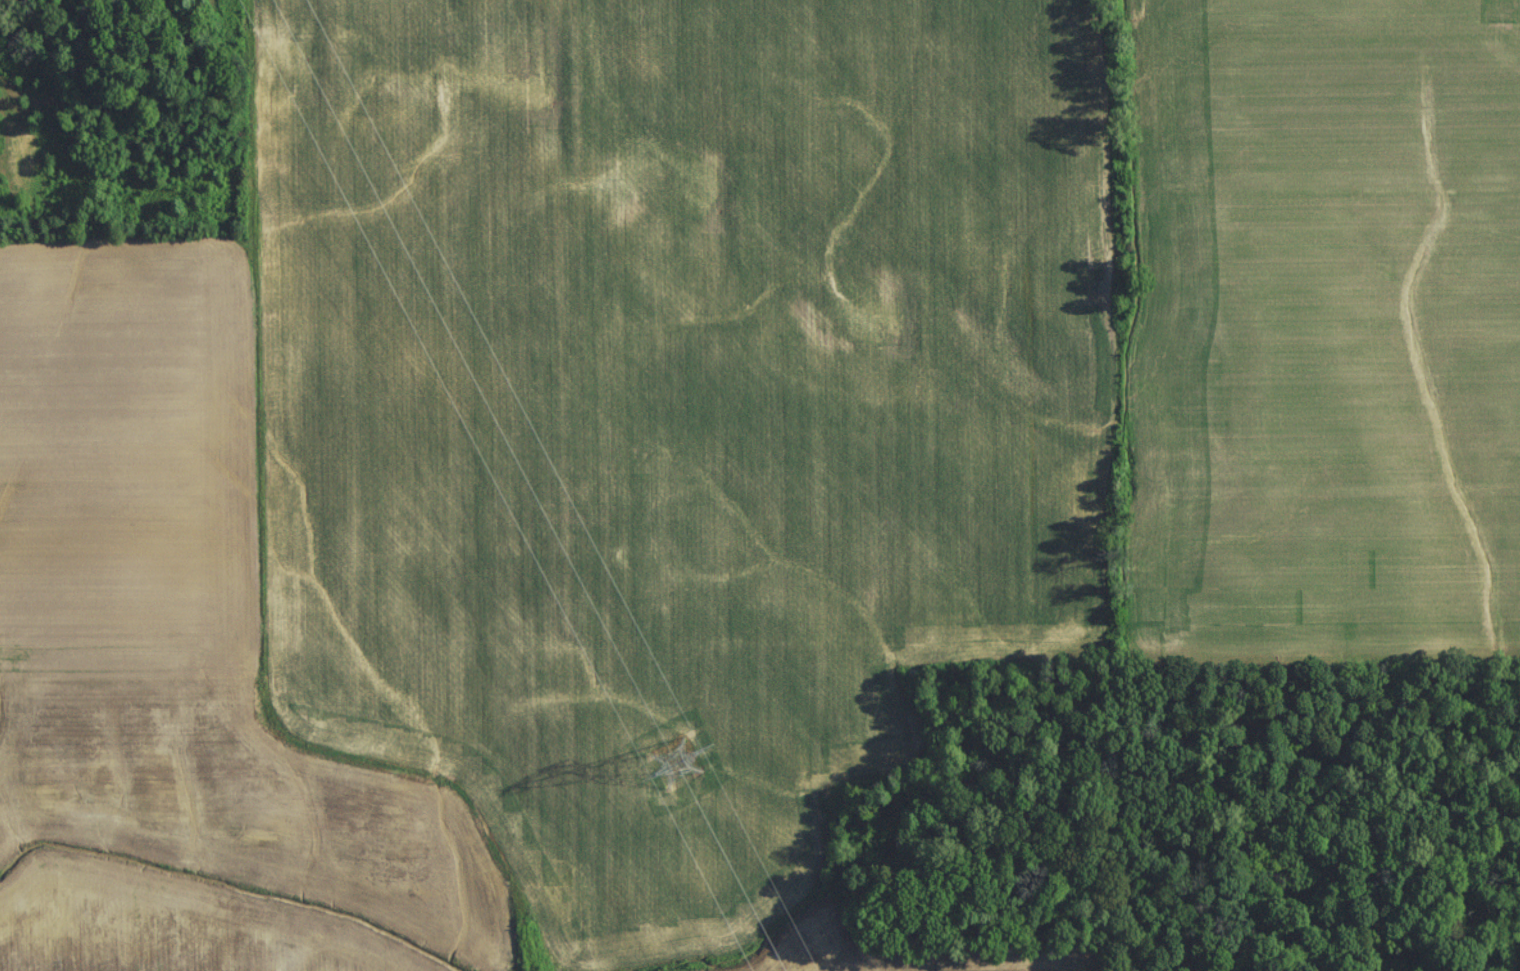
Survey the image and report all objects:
power tower: (674, 766)

